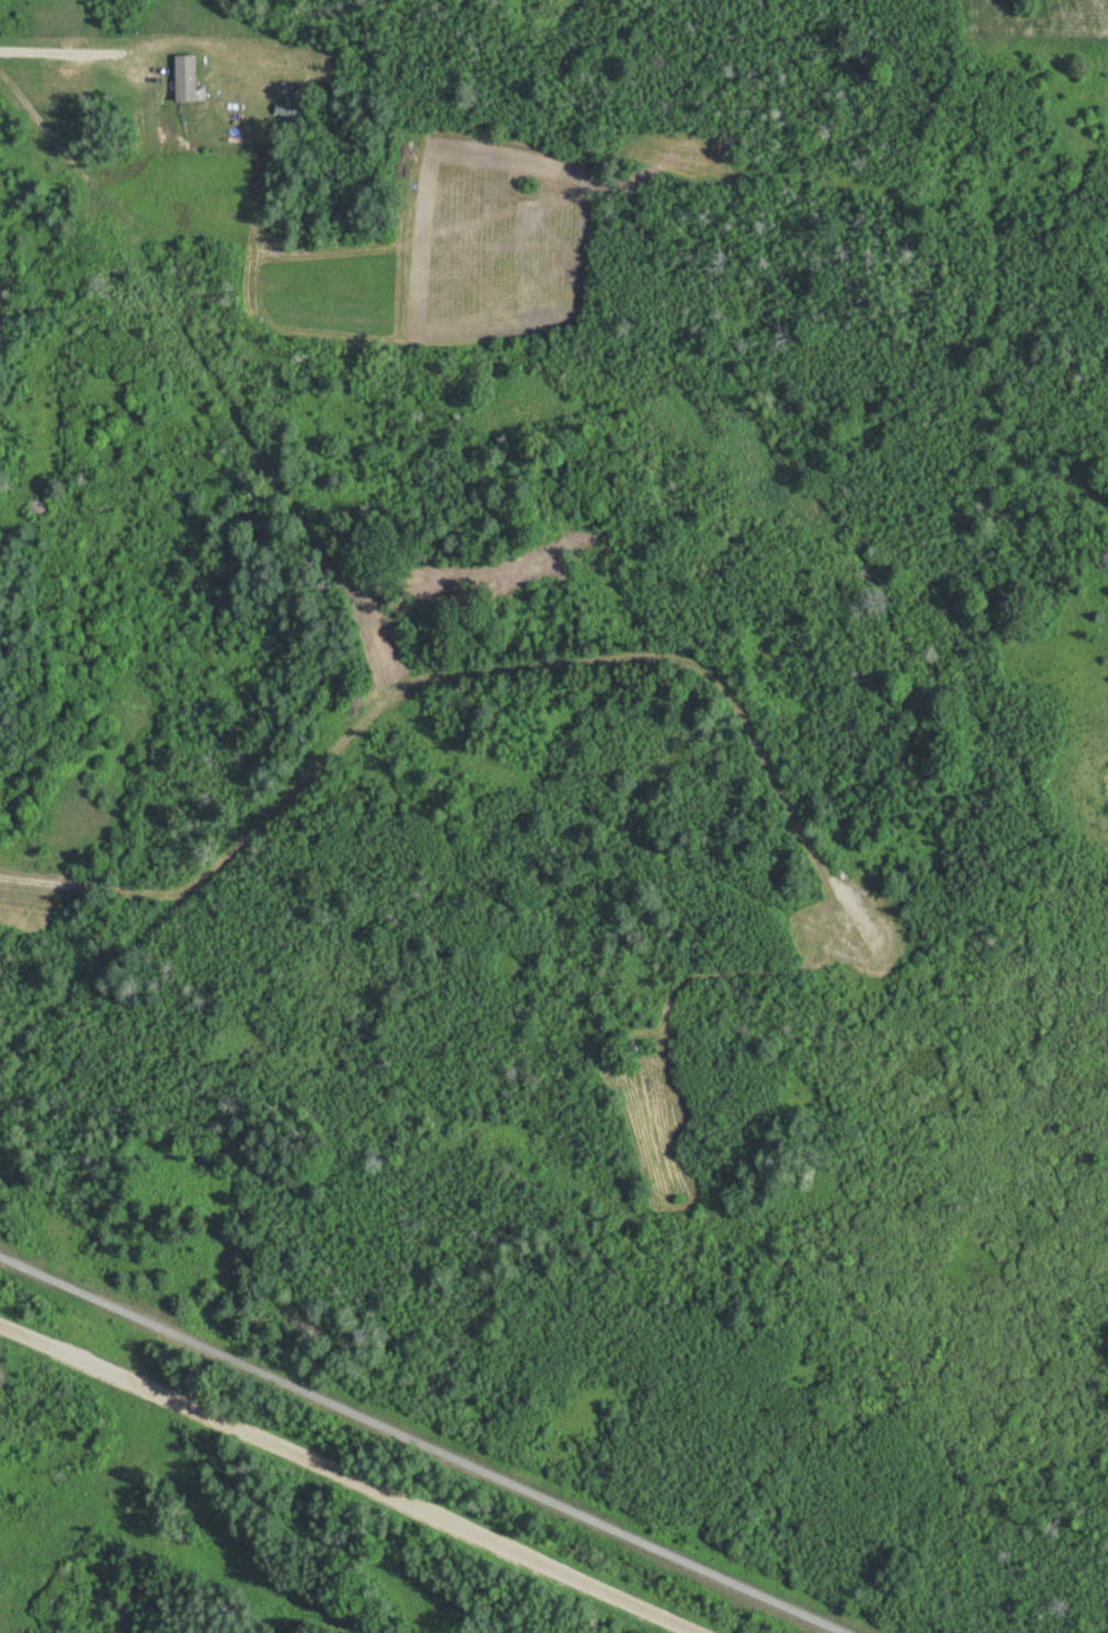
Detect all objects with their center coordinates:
building: (179, 77)
road: (469, 673)
road: (423, 1443)
road: (272, 1448)
road: (614, 1602)

